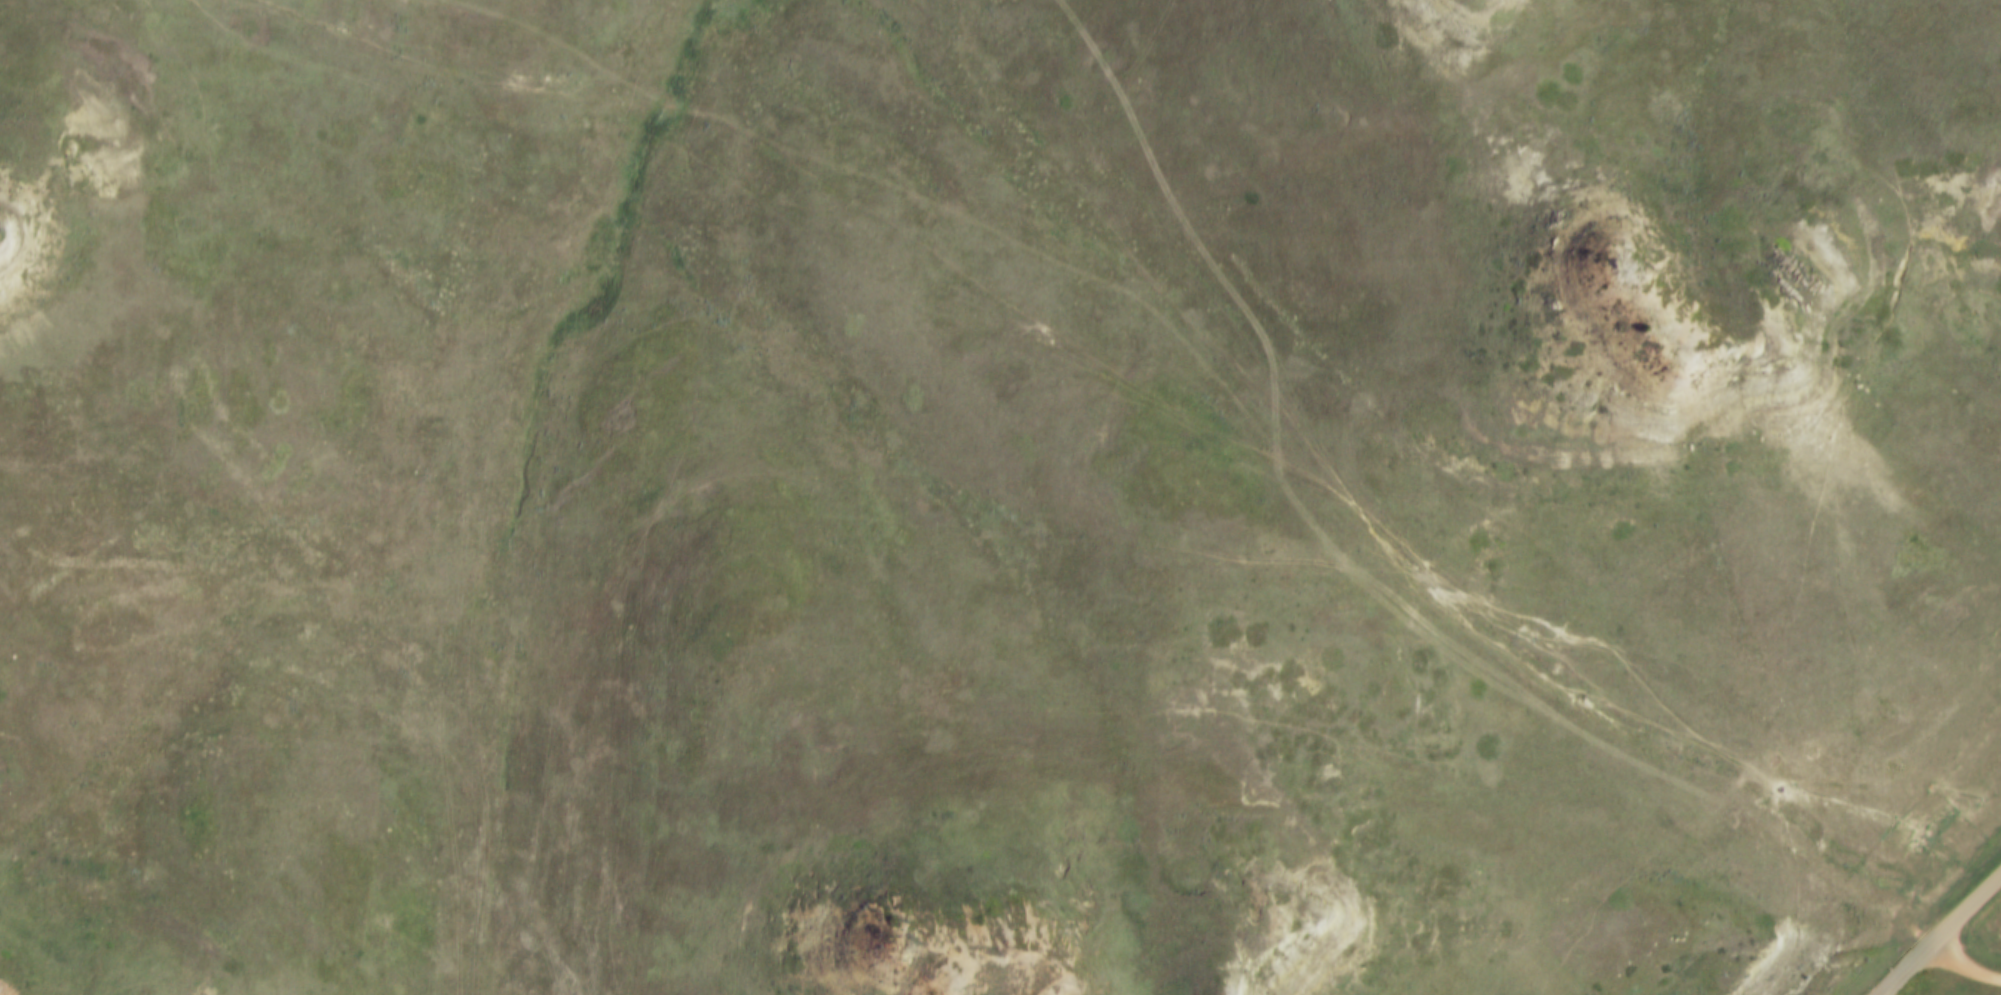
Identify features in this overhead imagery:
road: (1940, 933)
road: (1963, 965)

